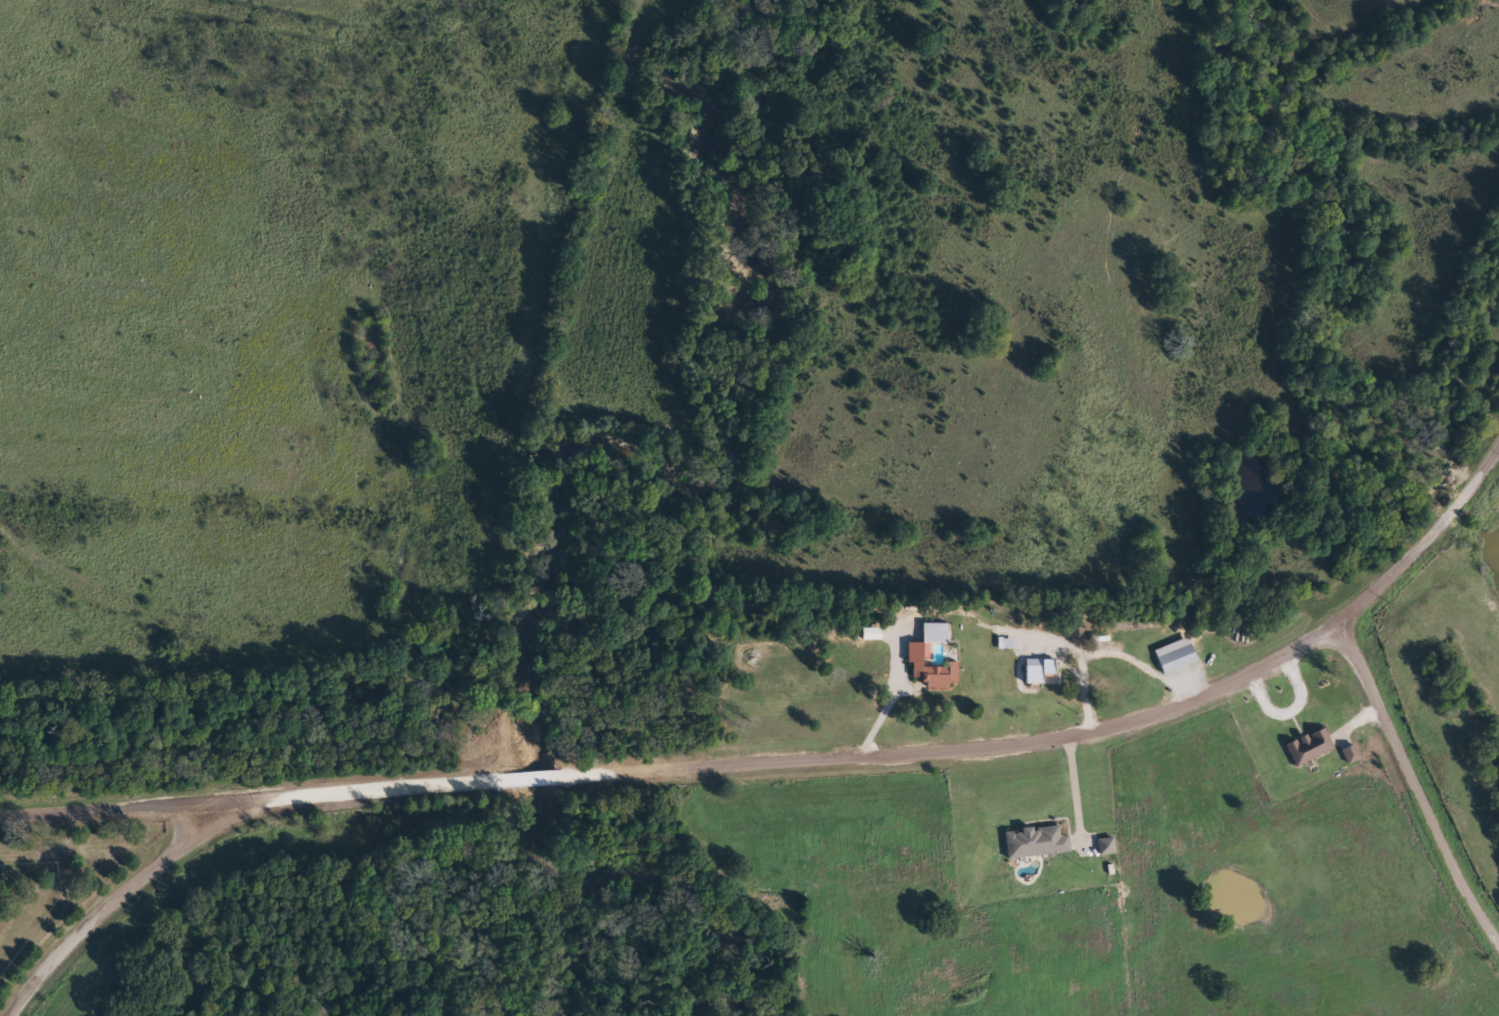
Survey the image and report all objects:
building: (871, 634)
building: (918, 650)
building: (1175, 656)
building: (1038, 670)
building: (1309, 747)
building: (1351, 754)
road: (770, 762)
road: (1416, 791)
road: (133, 809)
building: (1035, 843)
building: (1107, 847)

